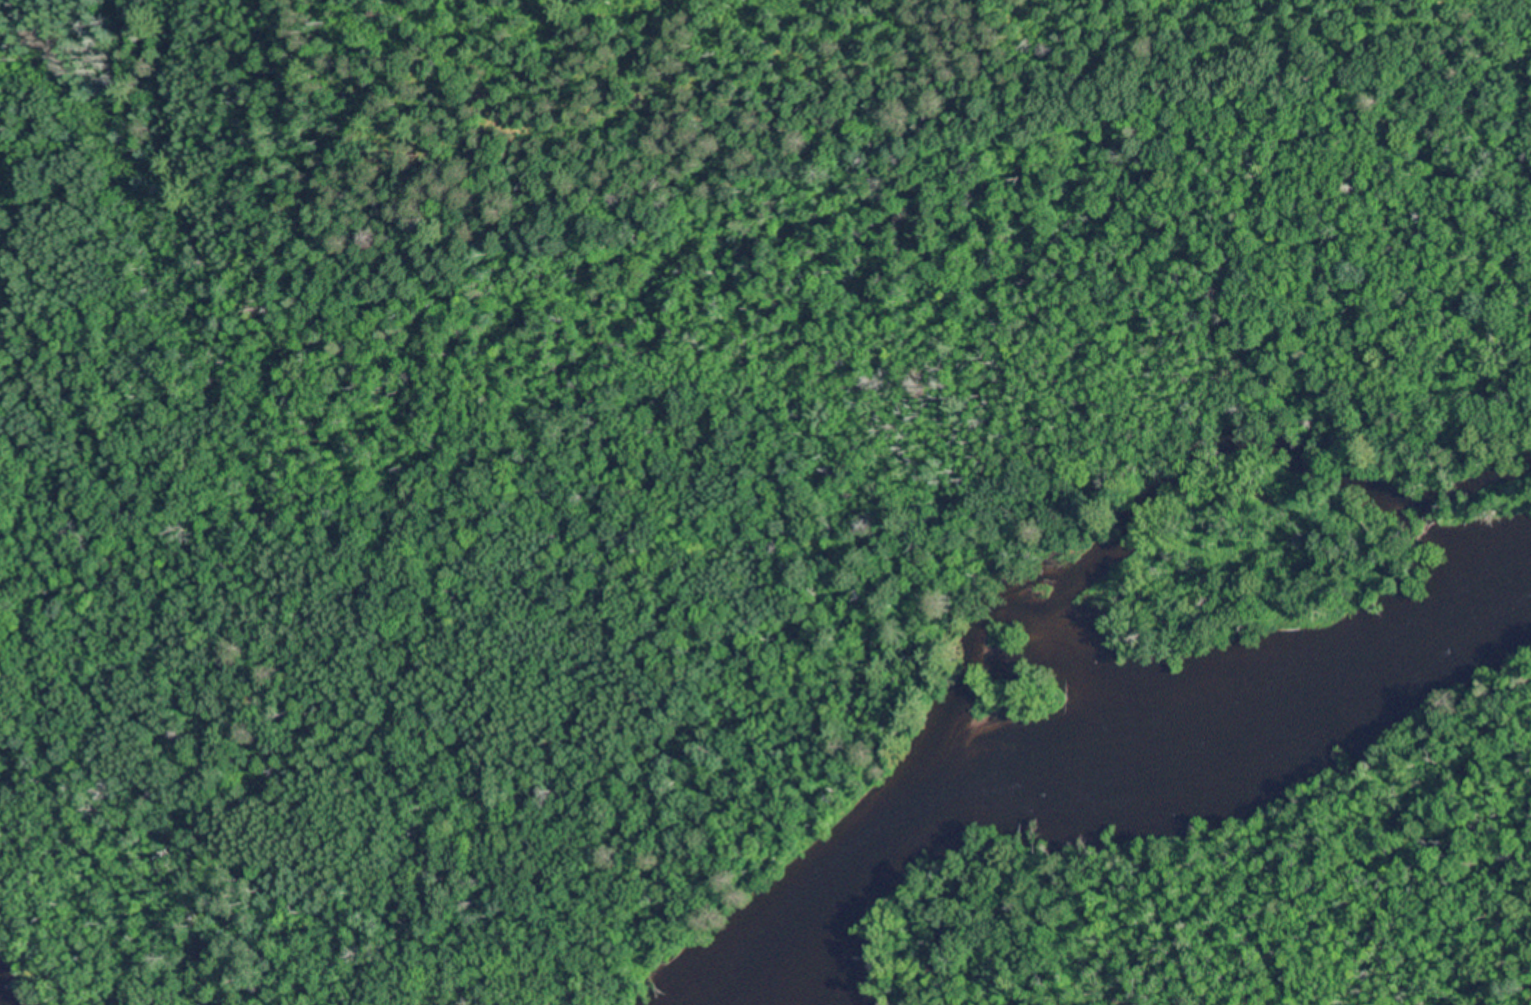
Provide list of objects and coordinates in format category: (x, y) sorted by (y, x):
river: (1122, 780)

